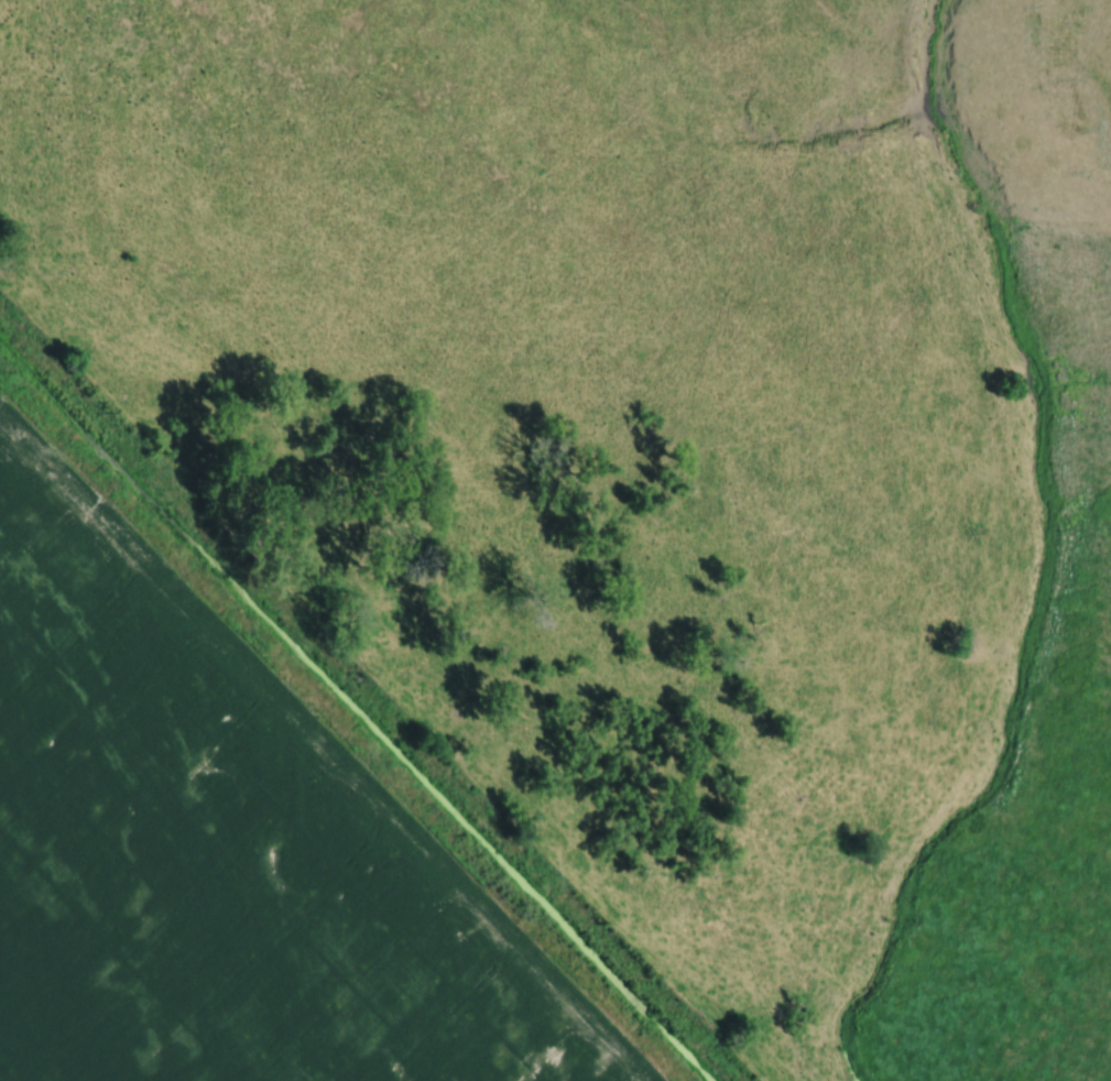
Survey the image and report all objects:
river: (1045, 559)

